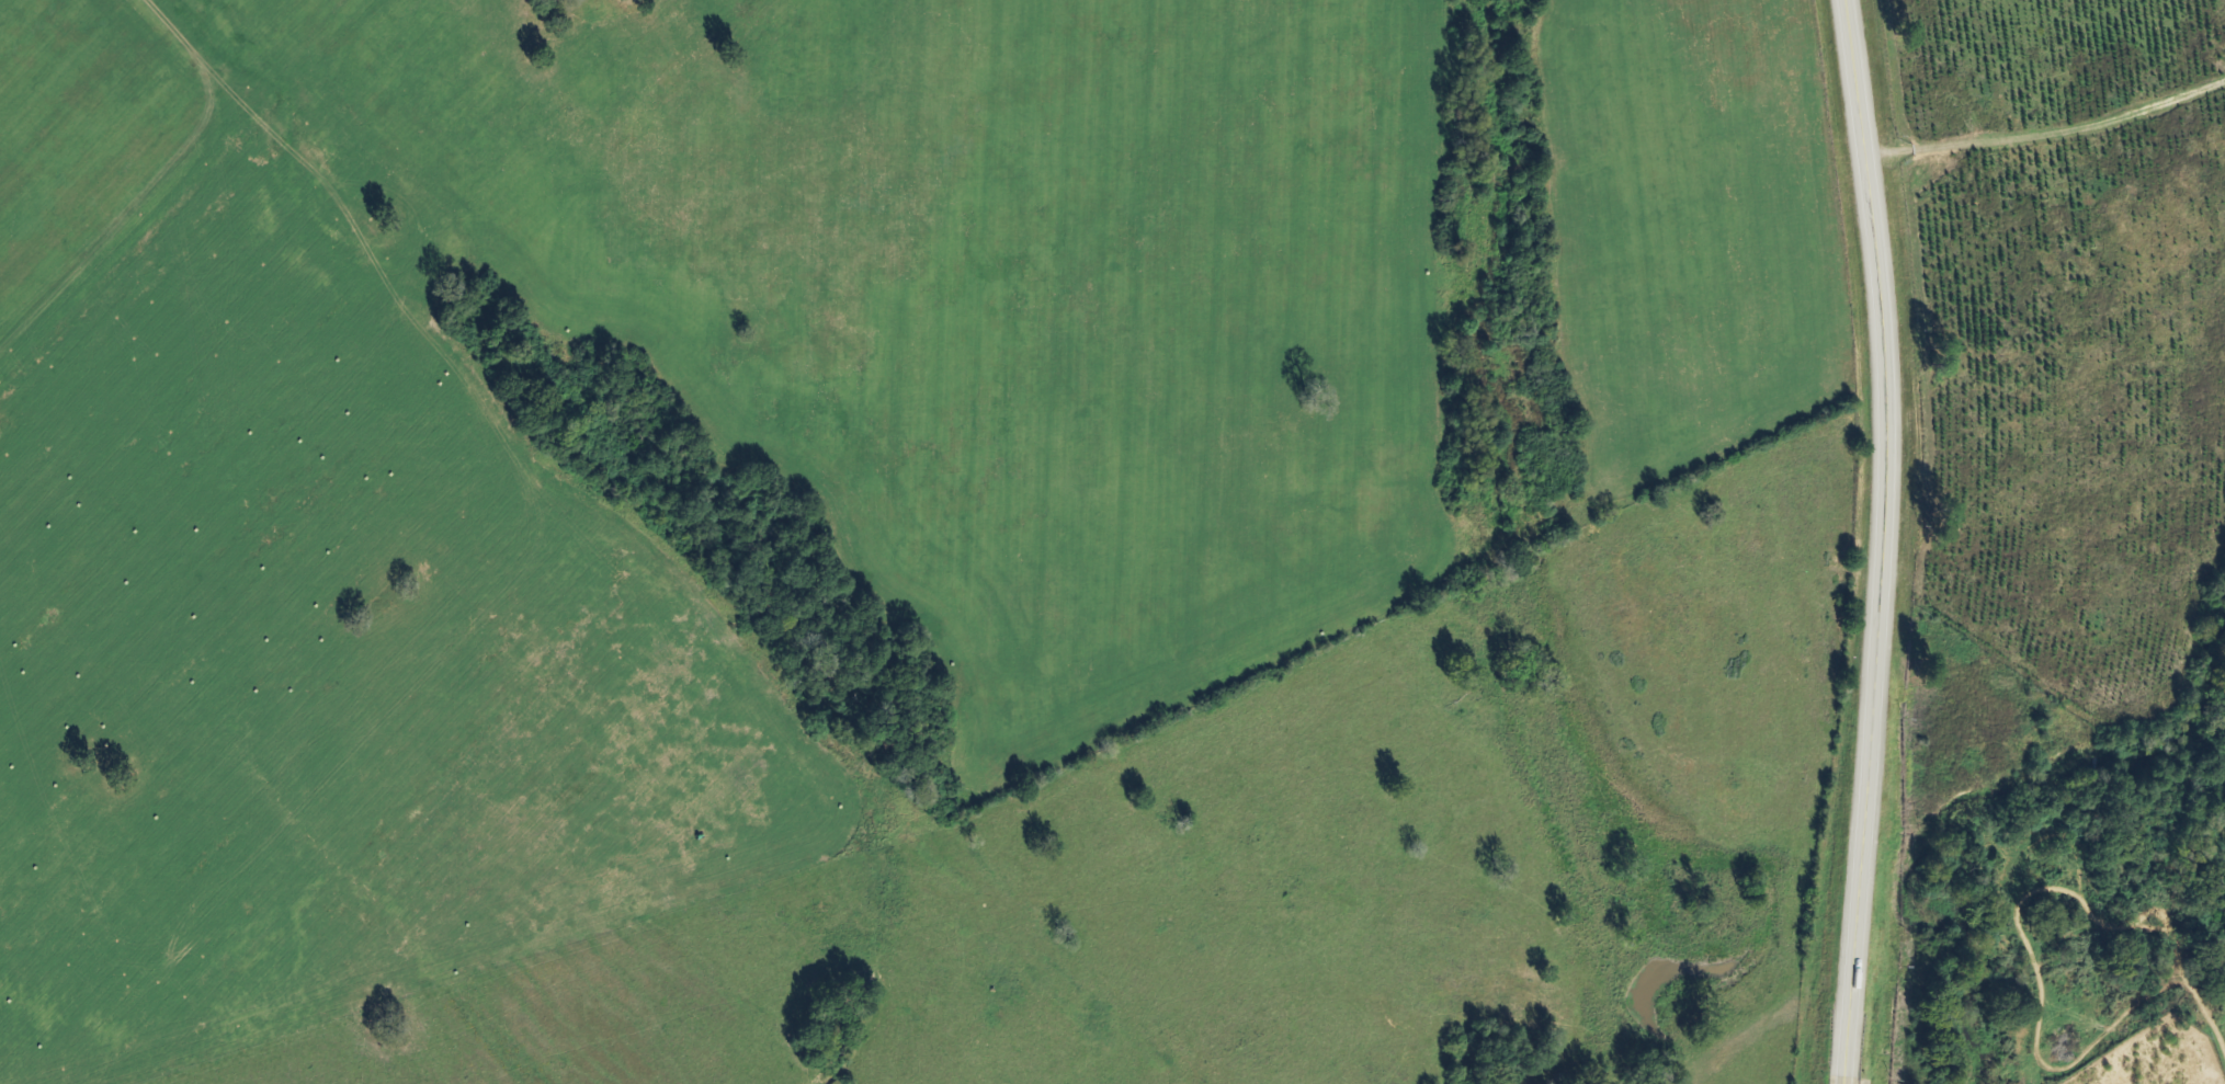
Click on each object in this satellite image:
road: (1883, 541)

